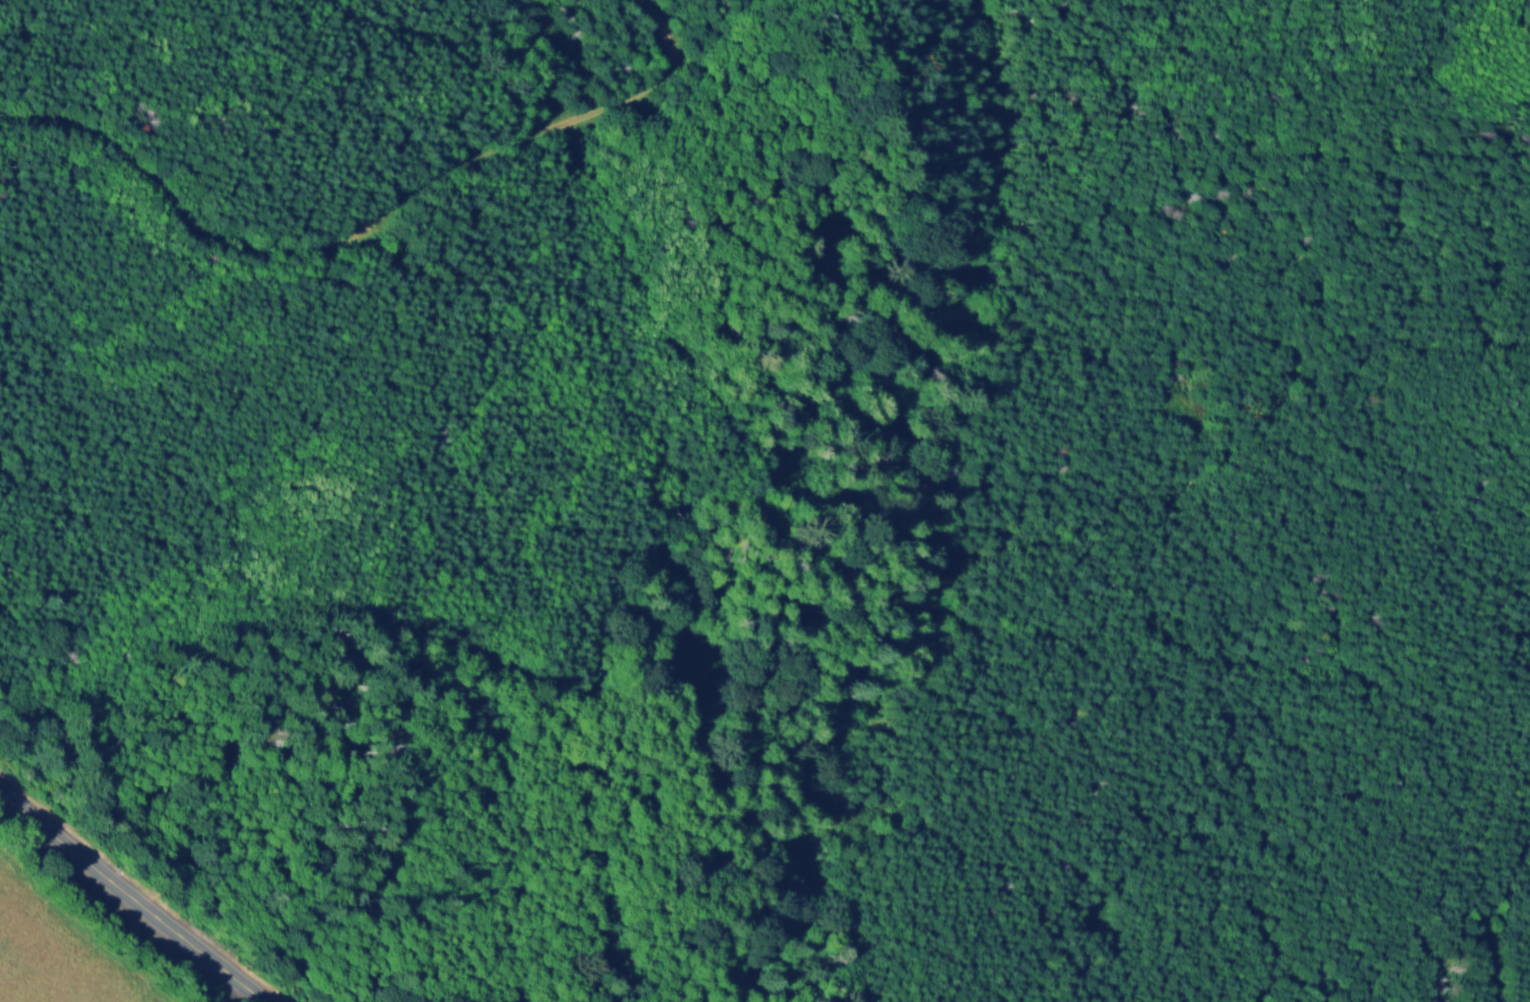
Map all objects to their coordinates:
road: (134, 897)

